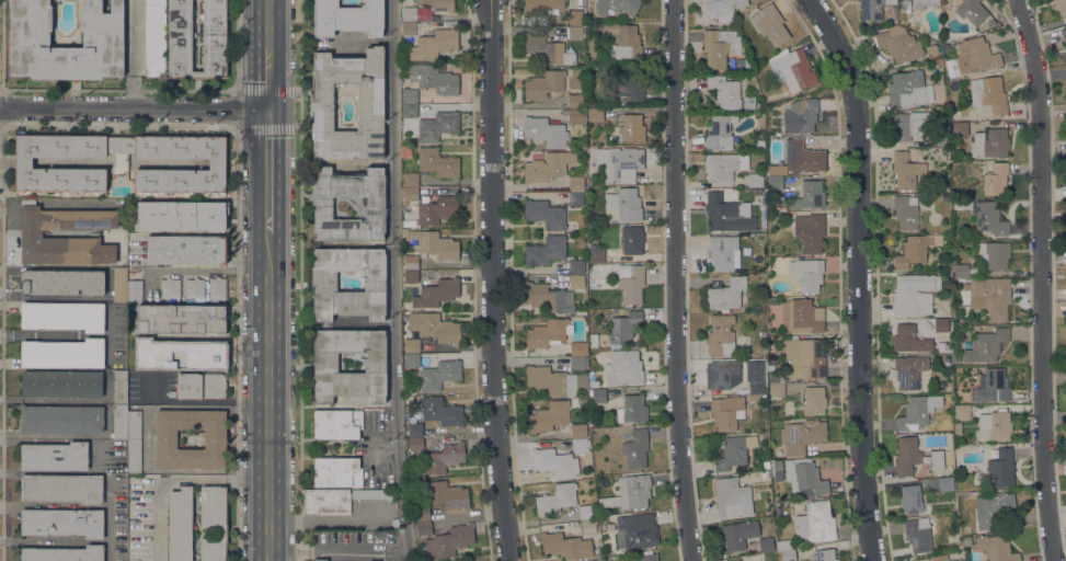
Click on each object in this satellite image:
building: (922, 3)
building: (438, 4)
building: (616, 5)
building: (903, 5)
building: (541, 7)
building: (1061, 8)
building: (721, 9)
building: (872, 9)
building: (971, 11)
building: (409, 13)
building: (347, 18)
building: (575, 18)
building: (769, 24)
building: (409, 28)
building: (575, 33)
building: (1064, 34)
building: (102, 38)
building: (154, 38)
building: (627, 43)
building: (433, 44)
building: (719, 46)
building: (899, 46)
building: (546, 49)
building: (180, 51)
road: (133, 55)
road: (267, 55)
building: (975, 55)
building: (594, 66)
building: (793, 70)
building: (434, 79)
building: (543, 84)
building: (630, 84)
building: (906, 89)
road: (265, 91)
building: (724, 92)
building: (988, 94)
building: (410, 96)
building: (574, 101)
building: (748, 103)
building: (369, 106)
road: (134, 110)
building: (410, 111)
building: (595, 115)
building: (575, 116)
building: (801, 117)
building: (905, 125)
road: (118, 126)
building: (436, 126)
building: (631, 128)
building: (960, 128)
road: (266, 129)
building: (546, 131)
building: (720, 131)
building: (939, 136)
building: (989, 144)
building: (405, 152)
building: (803, 157)
building: (119, 162)
building: (437, 162)
building: (620, 163)
building: (546, 167)
building: (723, 167)
building: (770, 169)
road: (268, 171)
building: (905, 171)
building: (410, 179)
building: (995, 179)
building: (755, 180)
building: (776, 182)
building: (575, 184)
building: (410, 194)
building: (809, 195)
building: (575, 198)
building: (321, 202)
building: (624, 204)
building: (437, 209)
building: (906, 211)
building: (721, 213)
building: (545, 214)
building: (180, 216)
building: (987, 217)
building: (573, 225)
building: (811, 232)
building: (31, 233)
building: (404, 234)
building: (632, 240)
building: (435, 244)
building: (185, 249)
building: (915, 250)
building: (545, 251)
building: (722, 252)
building: (596, 253)
building: (994, 254)
building: (410, 262)
building: (576, 266)
road: (198, 270)
building: (961, 271)
building: (806, 274)
building: (410, 276)
road: (860, 276)
road: (1043, 279)
railway: (273, 280)
road: (393, 280)
road: (492, 280)
road: (677, 280)
building: (61, 282)
building: (323, 282)
building: (575, 282)
building: (630, 283)
building: (125, 286)
building: (169, 288)
building: (194, 288)
building: (217, 288)
building: (436, 293)
building: (913, 294)
building: (726, 295)
building: (548, 298)
building: (990, 298)
building: (770, 301)
building: (611, 306)
building: (62, 316)
building: (802, 316)
building: (180, 319)
building: (940, 325)
building: (434, 327)
building: (622, 329)
building: (548, 333)
building: (720, 336)
building: (593, 340)
building: (909, 340)
building: (411, 345)
building: (986, 345)
building: (577, 348)
building: (62, 354)
building: (205, 356)
building: (804, 358)
building: (944, 359)
building: (411, 360)
building: (576, 364)
building: (325, 365)
building: (623, 368)
building: (909, 370)
building: (722, 374)
building: (439, 375)
building: (592, 379)
building: (550, 380)
building: (61, 385)
building: (198, 386)
building: (941, 386)
building: (993, 386)
building: (119, 387)
building: (757, 387)
building: (776, 389)
road: (270, 396)
building: (596, 396)
building: (814, 401)
building: (631, 410)
building: (440, 411)
building: (917, 411)
building: (726, 412)
building: (961, 412)
building: (548, 416)
building: (61, 419)
building: (119, 422)
building: (335, 424)
building: (995, 426)
building: (956, 428)
building: (414, 430)
building: (578, 431)
building: (801, 435)
building: (165, 439)
building: (134, 442)
building: (415, 445)
building: (580, 446)
building: (635, 449)
building: (733, 453)
building: (906, 456)
building: (55, 457)
building: (444, 458)
building: (937, 460)
building: (553, 462)
building: (765, 465)
building: (777, 467)
building: (1001, 468)
building: (336, 472)
building: (765, 474)
building: (804, 477)
building: (985, 480)
road: (177, 482)
building: (944, 484)
building: (60, 489)
building: (633, 491)
building: (370, 494)
building: (447, 494)
building: (731, 497)
building: (910, 499)
building: (555, 500)
building: (326, 502)
road: (54, 504)
building: (993, 507)
building: (586, 512)
building: (421, 514)
road: (107, 519)
building: (604, 519)
building: (815, 522)
building: (62, 523)
building: (213, 523)
building: (180, 524)
building: (588, 526)
building: (422, 528)
building: (966, 530)
building: (637, 533)
building: (918, 535)
building: (744, 536)
road: (53, 540)
building: (448, 541)
building: (565, 546)
building: (782, 546)
building: (996, 548)
building: (596, 552)
building: (62, 553)
building: (825, 554)
building: (646, 556)
building: (788, 556)
building: (939, 558)
building: (319, 560)
building: (455, 560)
building: (734, 560)
building: (803, 560)

